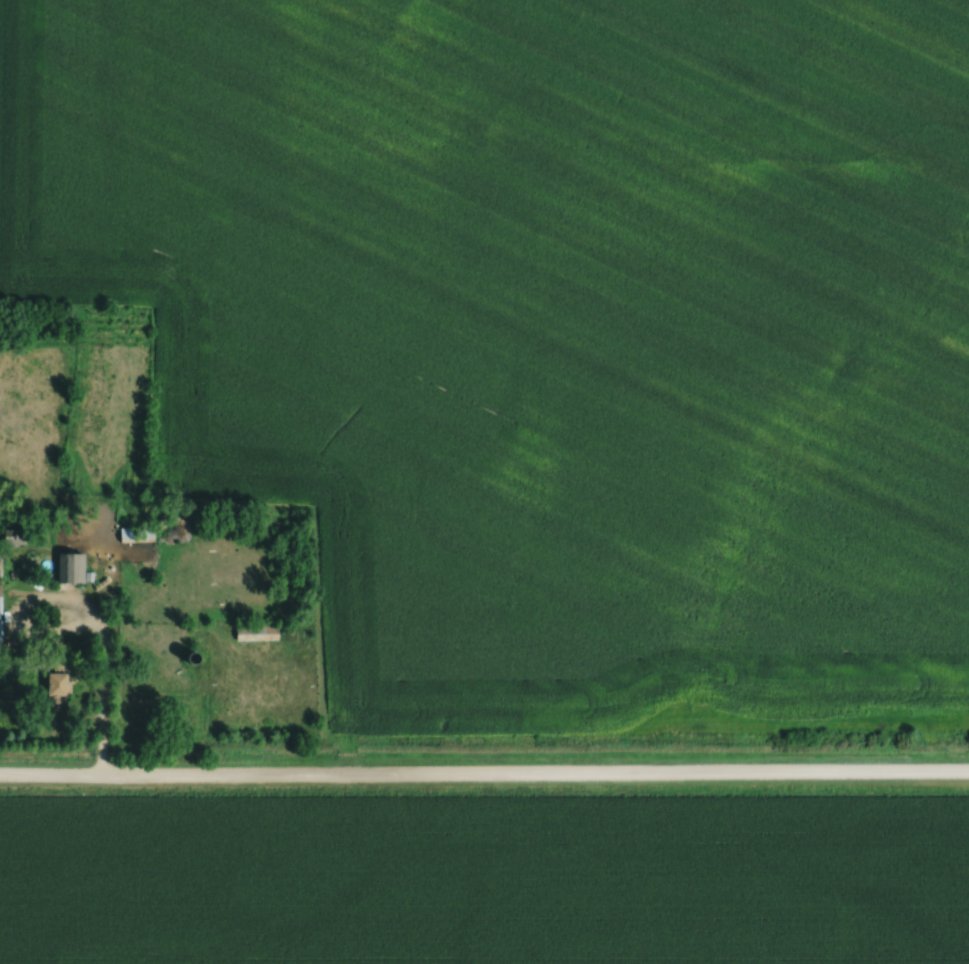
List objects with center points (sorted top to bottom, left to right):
building: (138, 533)
building: (17, 535)
building: (75, 565)
building: (1, 604)
road: (37, 628)
building: (259, 631)
building: (63, 680)
road: (104, 701)
road: (484, 780)

